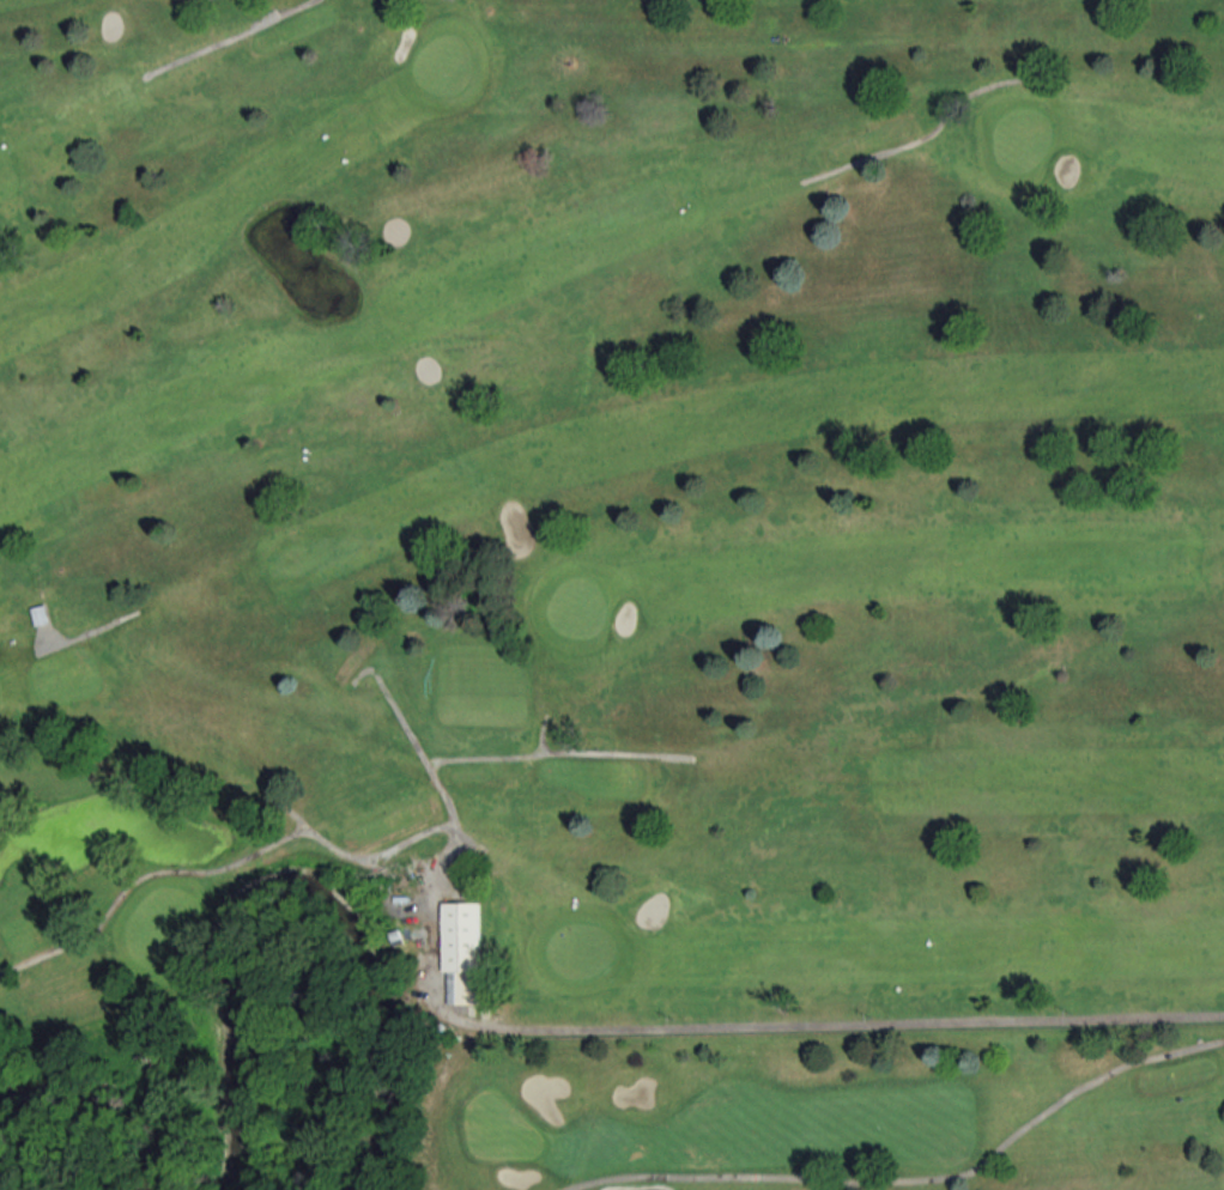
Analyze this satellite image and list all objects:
park: (607, 509)
building: (40, 617)
building: (462, 954)
road: (847, 1022)
park: (816, 1101)
park: (57, 1168)
road: (913, 1179)

